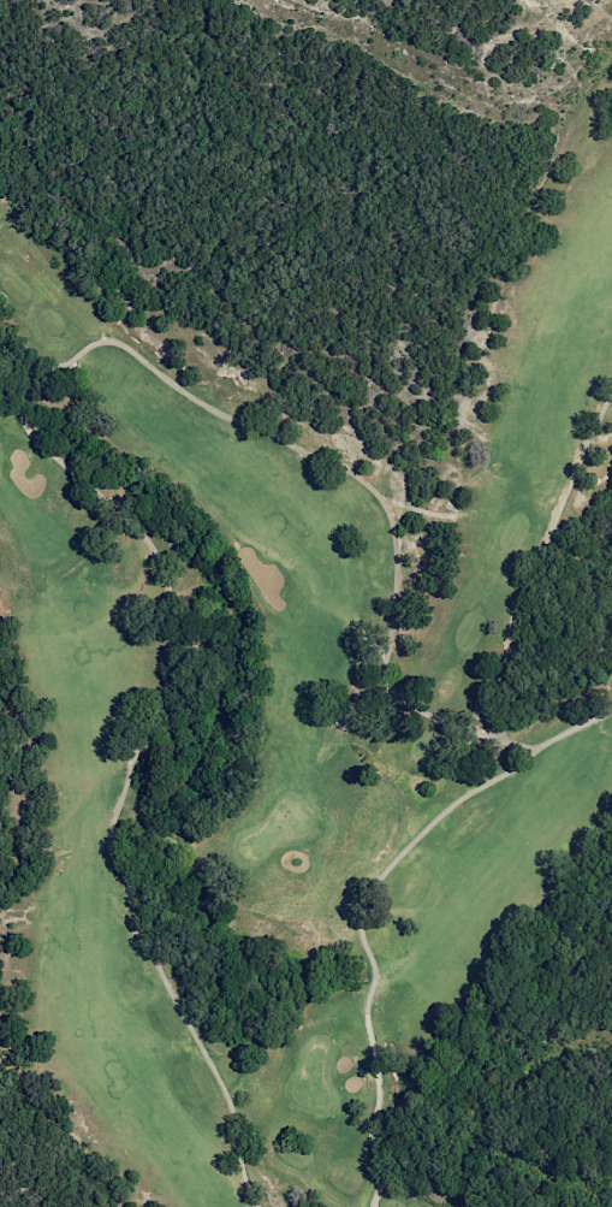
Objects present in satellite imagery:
road: (57, 457)
road: (366, 484)
road: (539, 562)
park: (303, 718)
road: (367, 899)
road: (161, 971)

